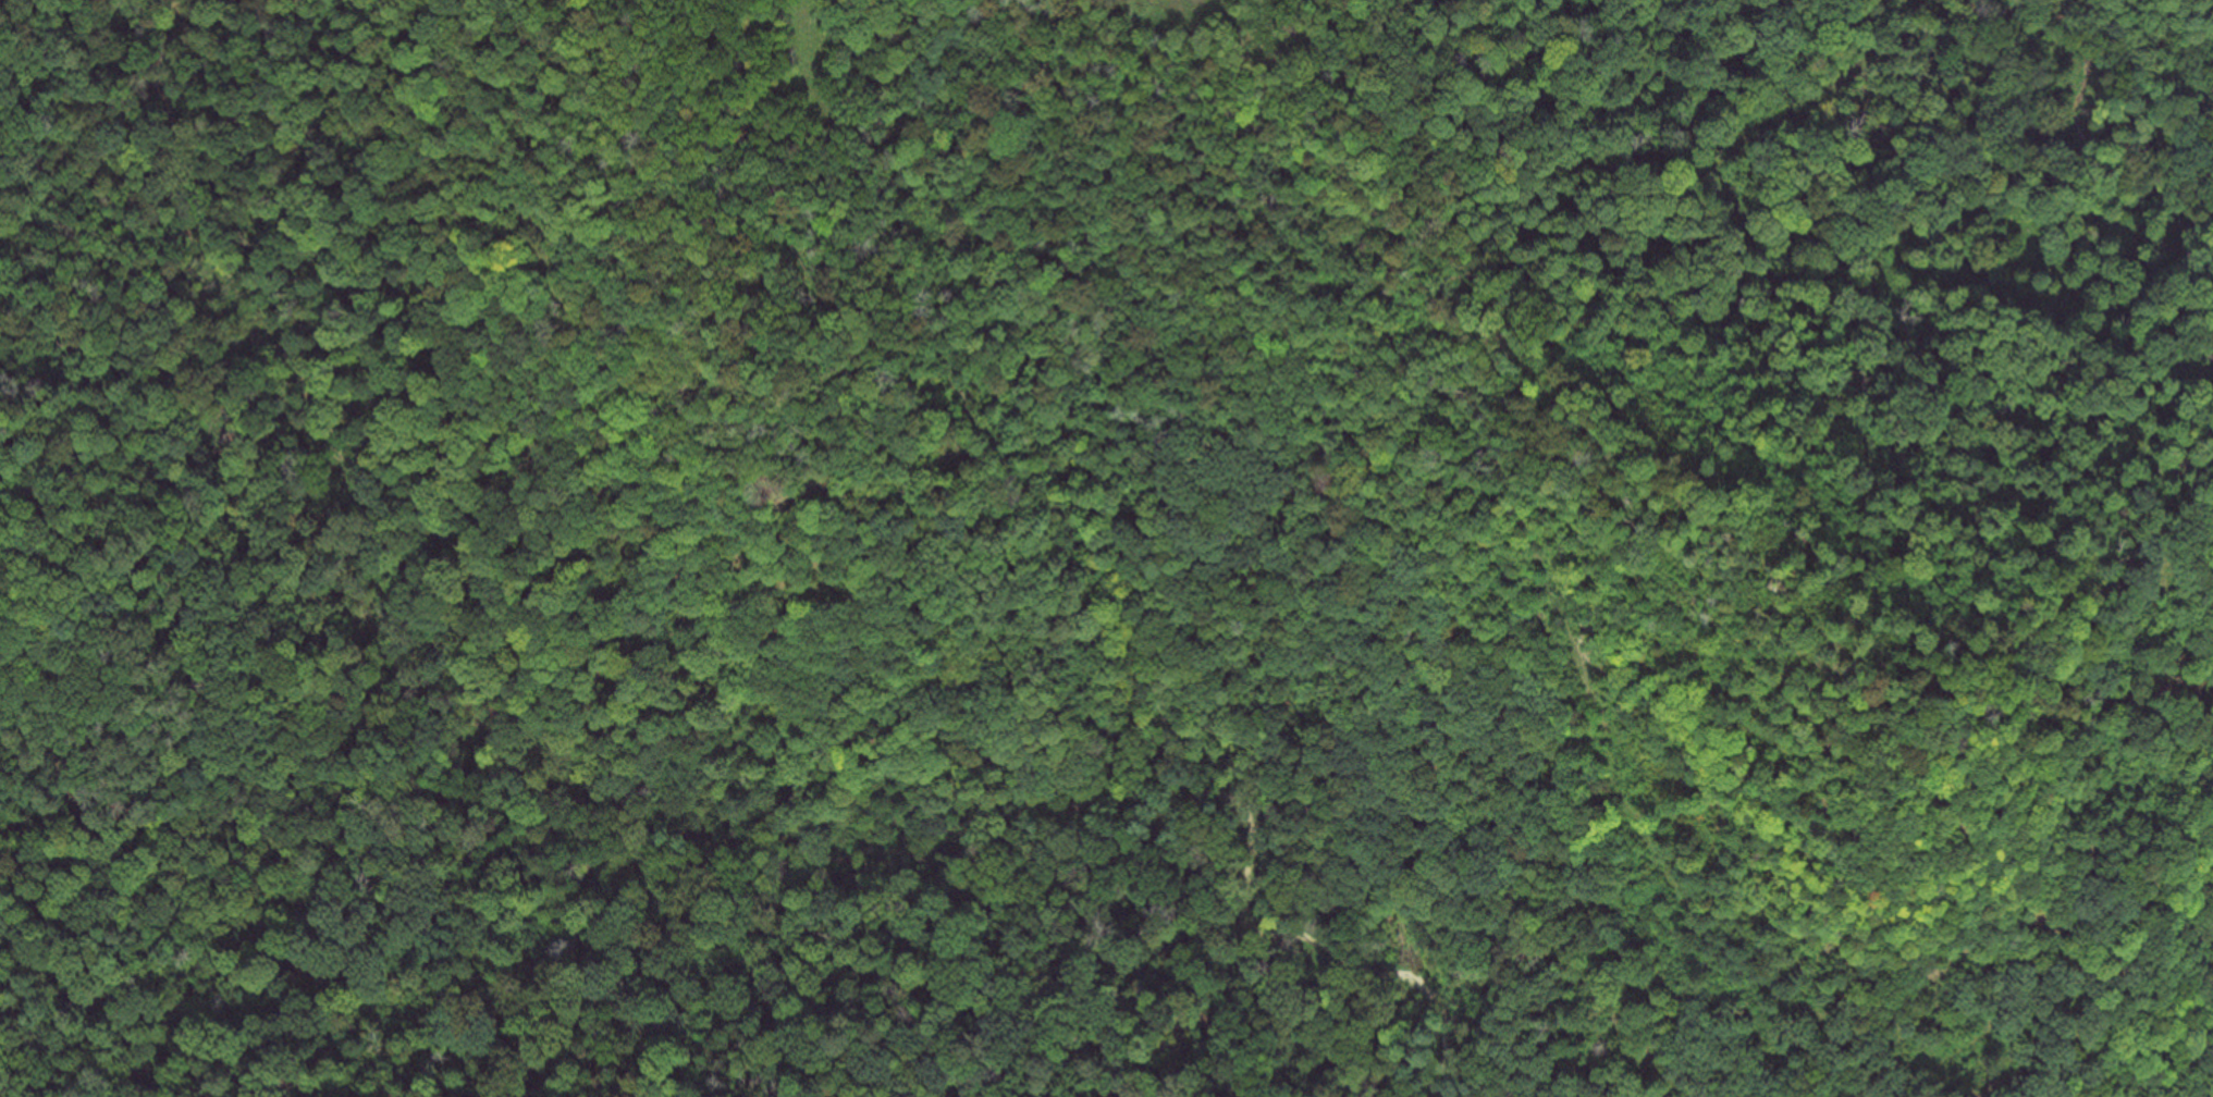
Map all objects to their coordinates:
park: (1878, 44)

